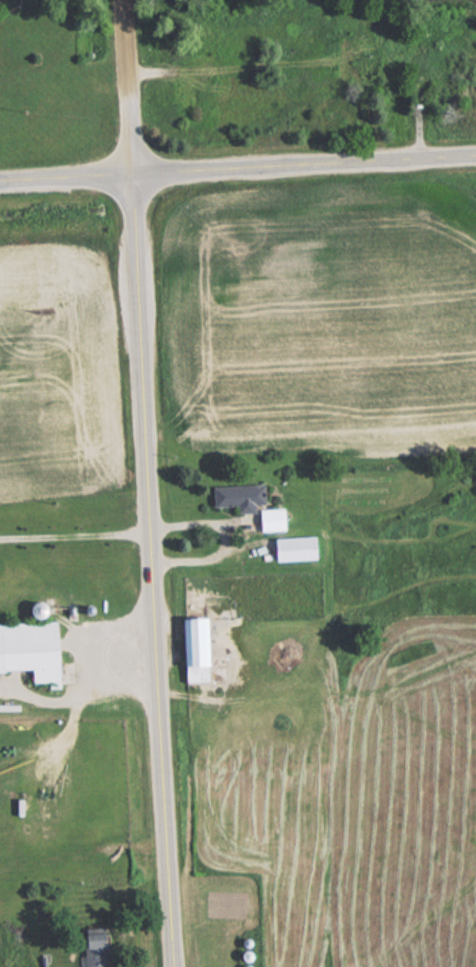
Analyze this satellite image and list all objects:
building: (351, 46)
building: (199, 80)
road: (128, 88)
road: (238, 169)
building: (247, 503)
road: (75, 535)
road: (226, 535)
building: (291, 547)
road: (152, 571)
building: (190, 648)
building: (29, 650)
road: (83, 689)
building: (91, 947)

